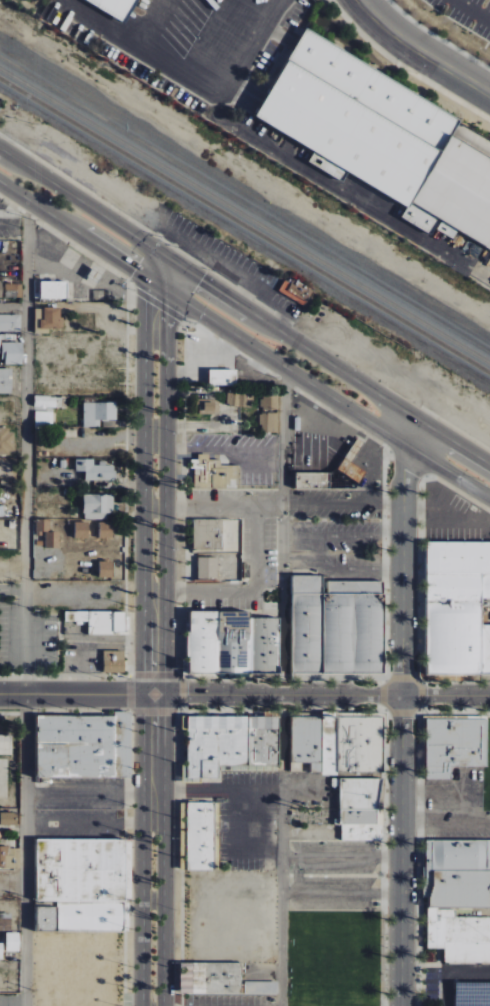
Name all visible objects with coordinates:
building: (114, 7)
road: (473, 10)
road: (94, 22)
road: (416, 55)
road: (190, 78)
building: (382, 137)
road: (25, 174)
road: (70, 195)
railway: (245, 216)
road: (67, 225)
railway: (245, 226)
road: (100, 234)
road: (158, 260)
traffic signals: (141, 261)
road: (171, 261)
traffic signals: (135, 270)
road: (146, 277)
traffic signals: (202, 281)
road: (166, 282)
road: (185, 285)
road: (176, 289)
building: (0, 290)
building: (13, 290)
building: (53, 290)
traffic signals: (195, 290)
building: (296, 290)
road: (167, 291)
road: (151, 293)
road: (189, 305)
road: (171, 306)
traffic signals: (166, 315)
building: (48, 318)
road: (242, 321)
building: (10, 323)
building: (11, 353)
road: (287, 368)
road: (345, 373)
building: (222, 377)
building: (6, 381)
building: (239, 399)
building: (44, 402)
building: (270, 402)
building: (98, 413)
building: (43, 419)
building: (268, 422)
road: (407, 425)
road: (328, 430)
road: (395, 438)
building: (7, 441)
road: (226, 448)
road: (455, 457)
building: (95, 470)
building: (213, 472)
road: (453, 474)
building: (312, 480)
road: (145, 499)
road: (274, 504)
road: (165, 505)
building: (98, 506)
building: (42, 526)
building: (82, 530)
building: (106, 530)
building: (208, 534)
building: (52, 540)
road: (318, 551)
building: (207, 568)
building: (105, 569)
road: (253, 591)
road: (26, 602)
building: (457, 608)
building: (100, 621)
building: (336, 627)
building: (232, 643)
building: (114, 662)
road: (282, 686)
road: (76, 694)
road: (322, 694)
road: (401, 726)
building: (230, 743)
building: (337, 744)
building: (456, 746)
building: (75, 747)
road: (218, 791)
road: (90, 792)
building: (360, 810)
building: (8, 819)
road: (90, 823)
road: (446, 823)
building: (200, 836)
road: (243, 838)
road: (154, 849)
road: (341, 857)
building: (10, 858)
building: (83, 884)
road: (341, 892)
building: (458, 899)
building: (5, 924)
building: (13, 942)
building: (1, 951)
building: (210, 978)
building: (261, 988)

